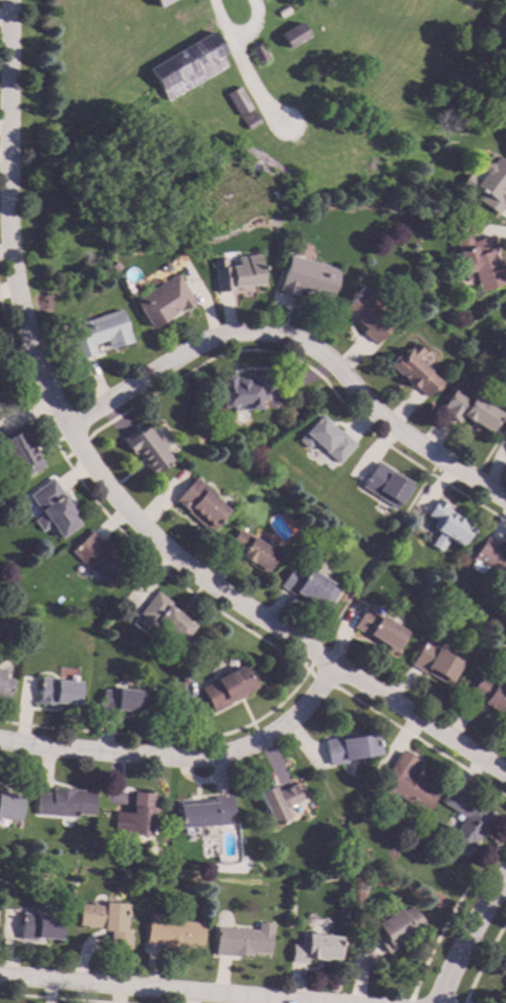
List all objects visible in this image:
building: (159, 2)
building: (281, 11)
building: (291, 35)
road: (234, 36)
building: (257, 53)
building: (187, 66)
road: (249, 88)
building: (238, 101)
park: (230, 115)
building: (249, 120)
building: (264, 160)
building: (488, 183)
building: (481, 264)
building: (235, 272)
building: (306, 278)
building: (161, 301)
building: (363, 316)
building: (505, 318)
building: (505, 321)
building: (97, 333)
road: (302, 344)
building: (412, 370)
building: (242, 391)
building: (468, 408)
building: (325, 438)
building: (144, 448)
road: (487, 449)
building: (19, 451)
road: (100, 480)
building: (385, 484)
building: (199, 504)
building: (51, 509)
building: (446, 524)
building: (251, 551)
building: (489, 557)
building: (97, 558)
road: (364, 573)
building: (309, 587)
building: (162, 617)
building: (379, 629)
building: (434, 662)
building: (0, 672)
road: (318, 679)
building: (4, 687)
building: (227, 688)
building: (54, 691)
building: (487, 694)
building: (125, 700)
building: (349, 747)
road: (185, 754)
building: (405, 782)
building: (277, 801)
building: (63, 802)
building: (10, 805)
building: (203, 813)
building: (134, 816)
building: (465, 820)
building: (106, 921)
building: (38, 926)
building: (396, 927)
building: (171, 932)
road: (467, 936)
building: (242, 940)
building: (314, 947)
building: (505, 961)
road: (155, 991)

